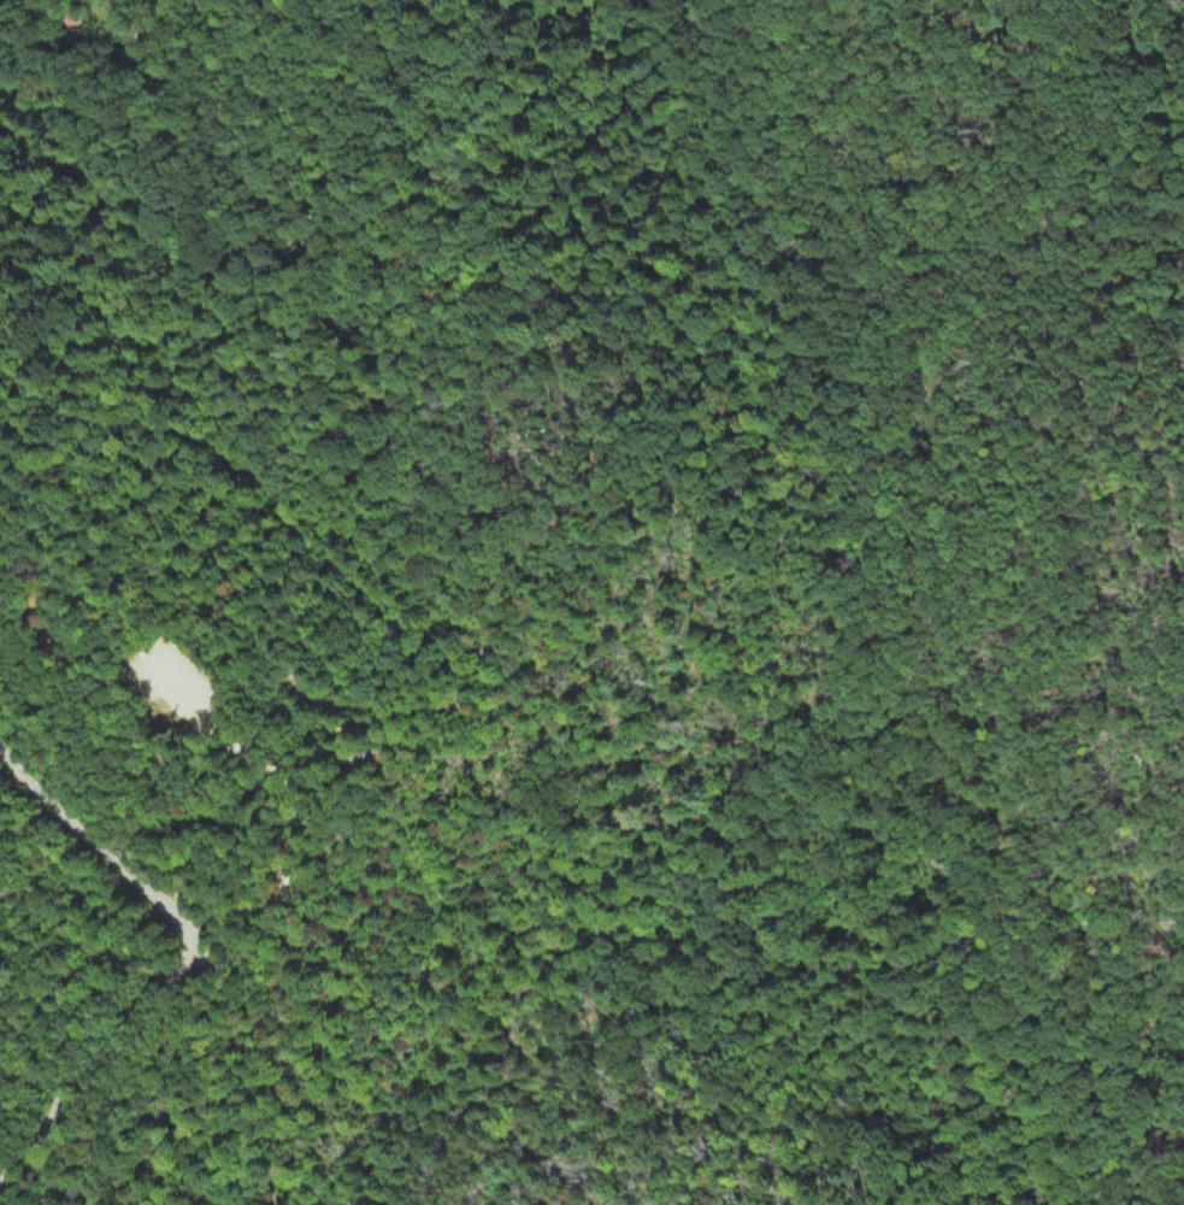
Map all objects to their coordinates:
road: (182, 964)

